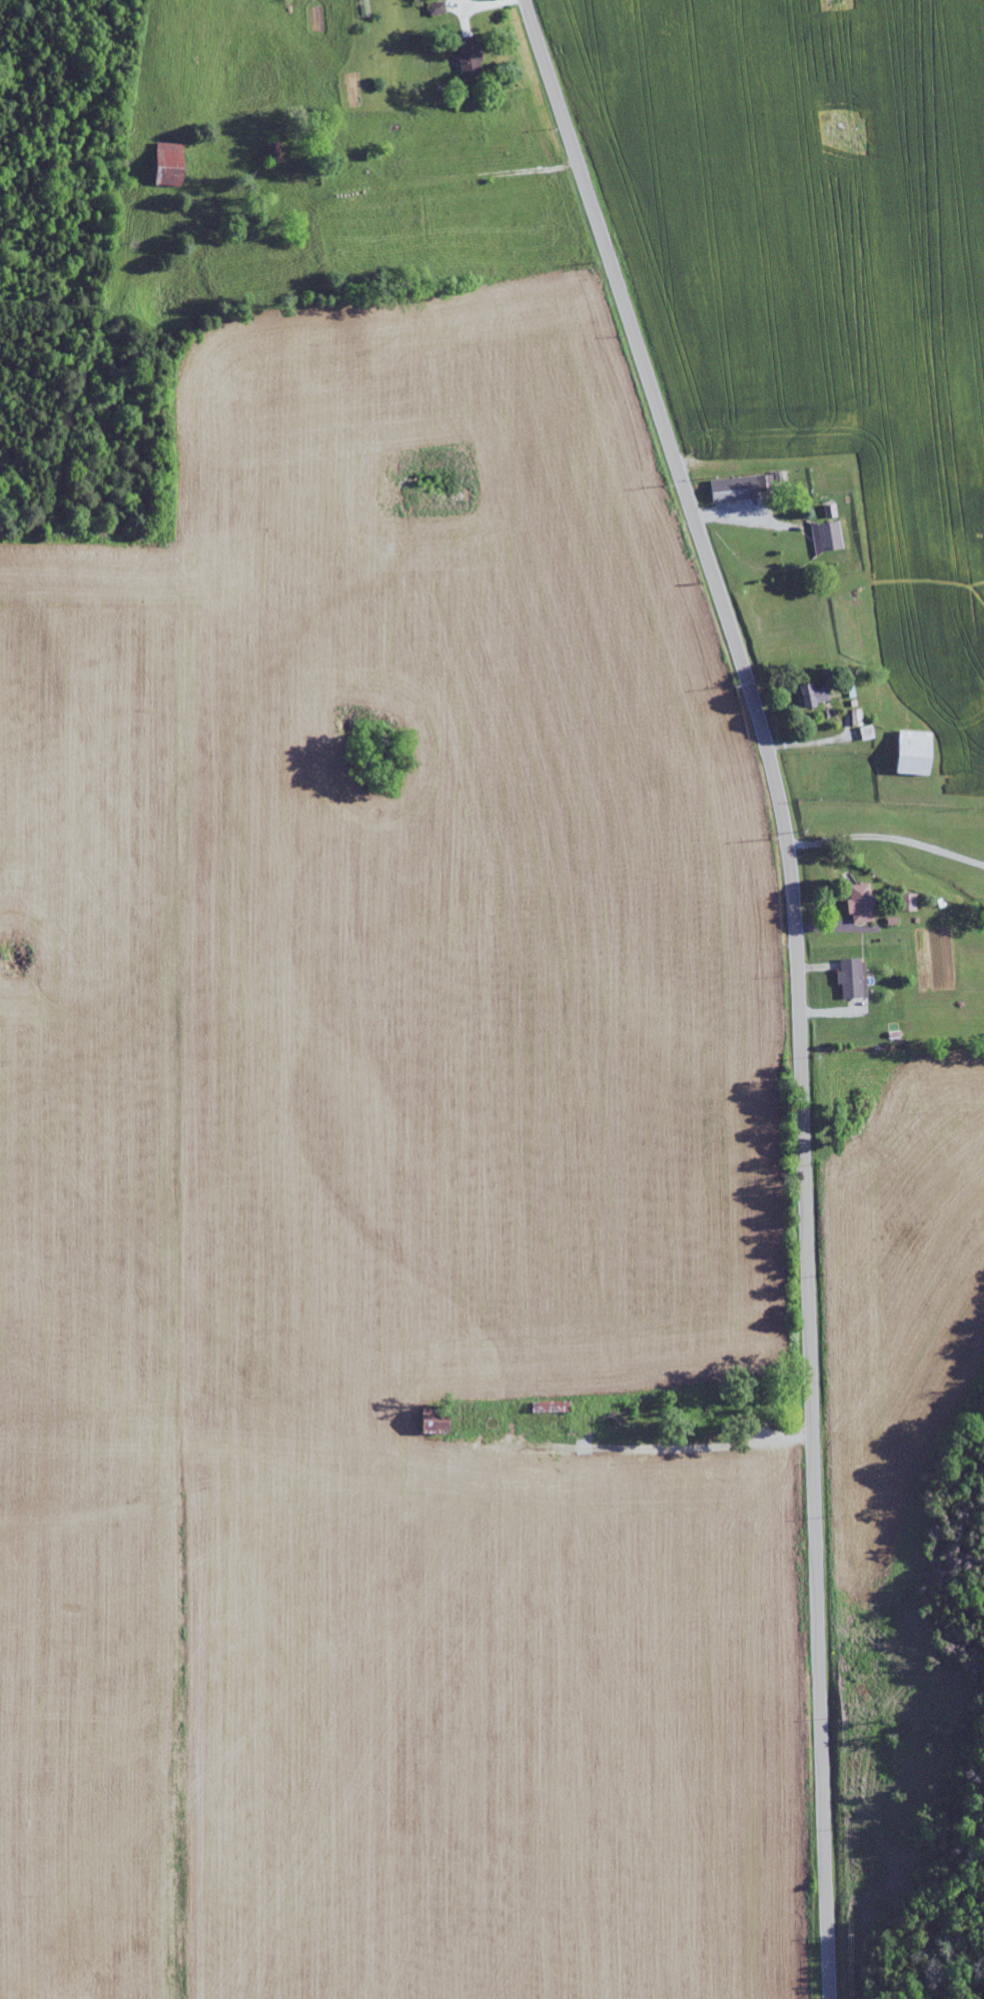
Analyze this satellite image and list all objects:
building: (437, 8)
building: (471, 58)
building: (276, 151)
building: (171, 165)
building: (743, 488)
building: (830, 510)
building: (828, 537)
building: (815, 694)
building: (916, 754)
building: (861, 902)
building: (909, 902)
building: (852, 978)
road: (797, 979)
building: (437, 1422)

